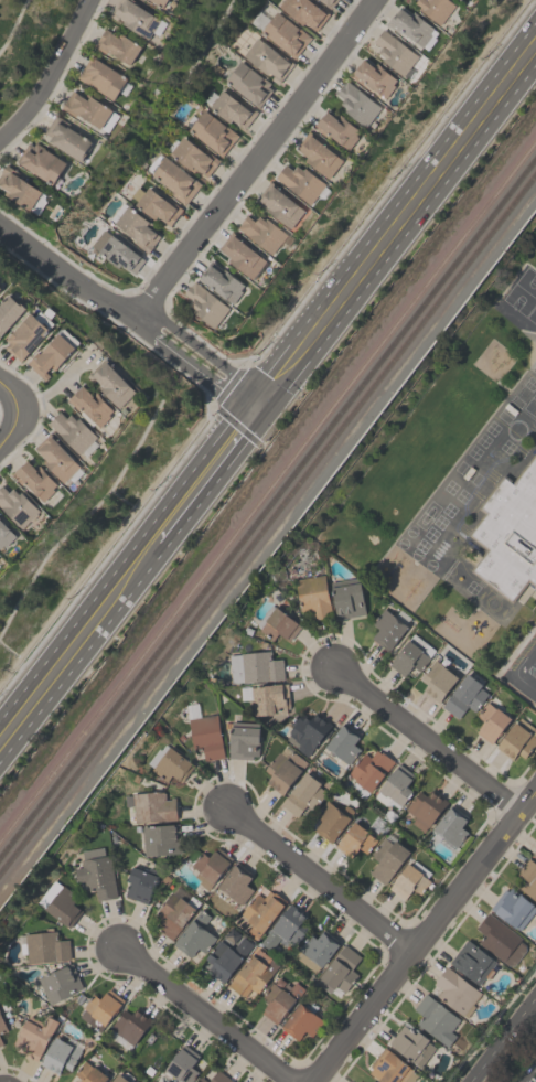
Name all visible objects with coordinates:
building: (460, 0)
building: (161, 2)
building: (328, 2)
building: (436, 9)
building: (303, 11)
building: (137, 18)
building: (410, 25)
building: (285, 34)
building: (117, 45)
building: (394, 52)
building: (267, 60)
road: (47, 71)
building: (101, 77)
building: (374, 77)
building: (247, 83)
building: (356, 103)
building: (232, 109)
building: (89, 110)
building: (336, 128)
building: (211, 131)
building: (66, 138)
building: (318, 154)
building: (192, 157)
road: (256, 158)
building: (44, 163)
building: (174, 180)
building: (302, 182)
building: (18, 188)
building: (156, 205)
building: (279, 205)
building: (137, 228)
building: (261, 232)
road: (404, 232)
building: (119, 254)
building: (242, 255)
road: (71, 276)
building: (222, 281)
building: (0, 288)
building: (0, 290)
building: (205, 304)
building: (9, 311)
building: (26, 333)
building: (51, 355)
road: (212, 356)
road: (268, 367)
road: (201, 373)
building: (112, 383)
traffic signals: (254, 387)
traffic signals: (274, 403)
traffic signals: (240, 404)
building: (90, 405)
road: (15, 410)
traffic signals: (261, 419)
building: (72, 430)
building: (56, 458)
building: (34, 480)
railway: (267, 491)
road: (203, 496)
building: (17, 506)
railway: (268, 507)
railway: (270, 526)
building: (510, 533)
building: (4, 534)
building: (0, 559)
building: (312, 596)
building: (346, 598)
building: (277, 623)
building: (387, 629)
building: (411, 655)
building: (254, 667)
road: (518, 671)
road: (65, 675)
building: (437, 681)
building: (462, 696)
building: (269, 698)
building: (491, 721)
building: (308, 730)
building: (205, 736)
building: (243, 739)
road: (428, 739)
building: (517, 739)
building: (343, 742)
building: (169, 763)
building: (283, 769)
building: (369, 769)
building: (397, 784)
building: (303, 794)
building: (151, 806)
building: (425, 808)
building: (330, 821)
building: (450, 825)
building: (160, 839)
building: (354, 840)
building: (535, 853)
building: (386, 858)
building: (207, 866)
building: (95, 872)
road: (320, 877)
building: (527, 878)
building: (408, 881)
building: (236, 882)
building: (140, 883)
building: (60, 902)
building: (512, 908)
building: (175, 911)
building: (261, 911)
building: (285, 928)
road: (420, 934)
building: (194, 935)
building: (500, 939)
building: (45, 946)
building: (318, 946)
building: (226, 957)
building: (472, 962)
building: (339, 972)
building: (253, 974)
building: (60, 983)
building: (455, 990)
building: (279, 999)
building: (100, 1007)
road: (206, 1015)
building: (436, 1019)
building: (300, 1021)
building: (130, 1025)
building: (2, 1026)
building: (36, 1035)
building: (0, 1042)
road: (505, 1042)
building: (411, 1044)
building: (153, 1050)
building: (60, 1056)
building: (182, 1064)
building: (390, 1068)
building: (90, 1073)
road: (530, 1075)
building: (119, 1078)
building: (219, 1078)
building: (201, 1080)
building: (371, 1081)

